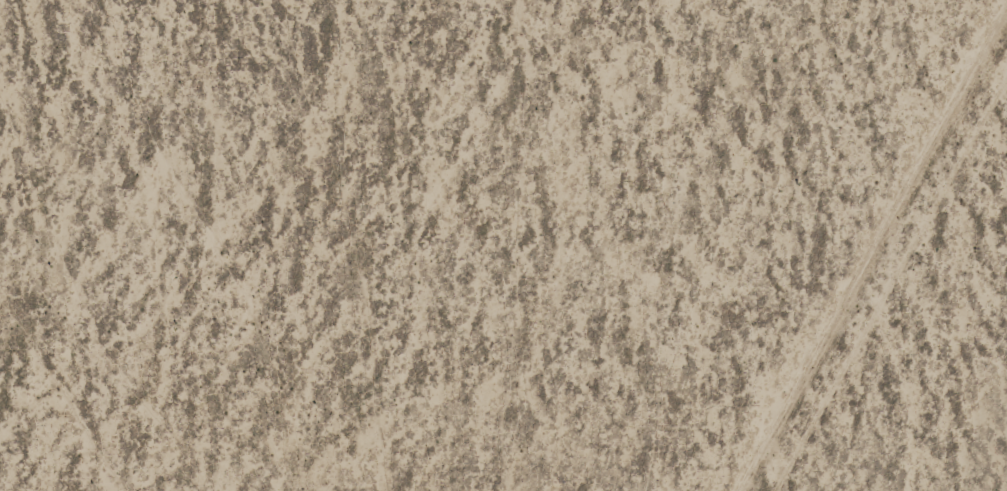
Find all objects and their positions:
road: (873, 249)

